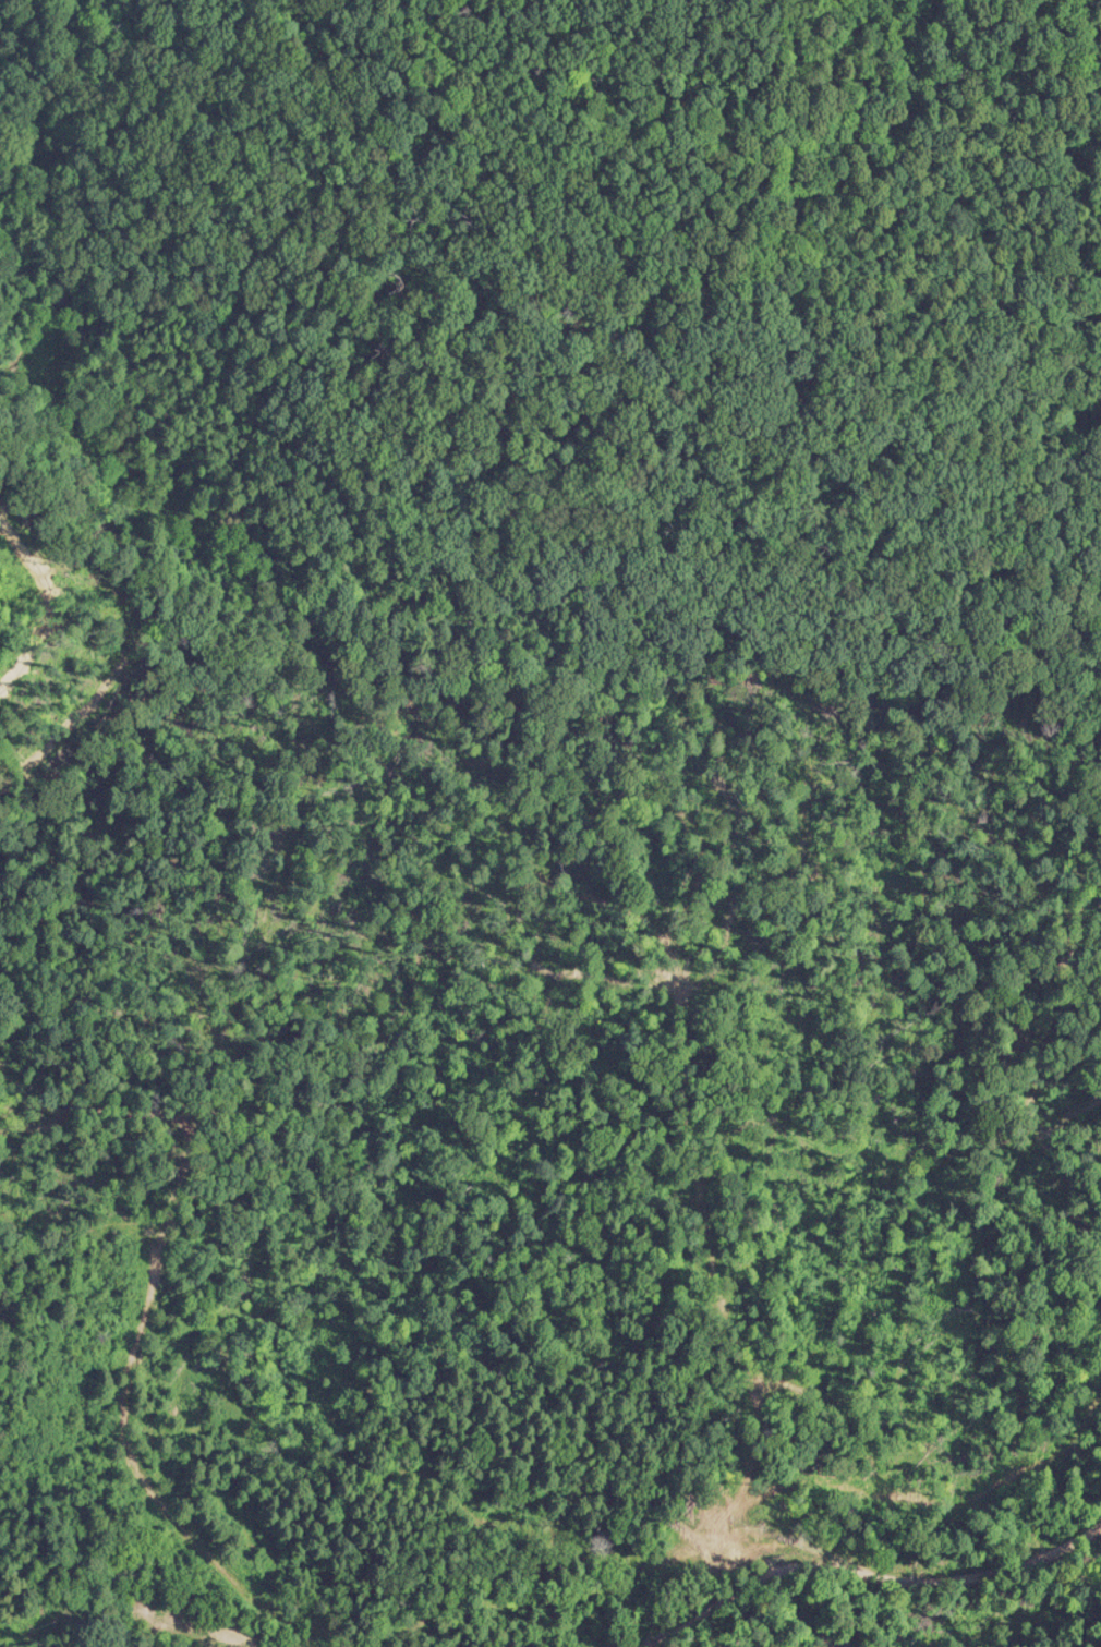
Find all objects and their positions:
road: (558, 1625)

